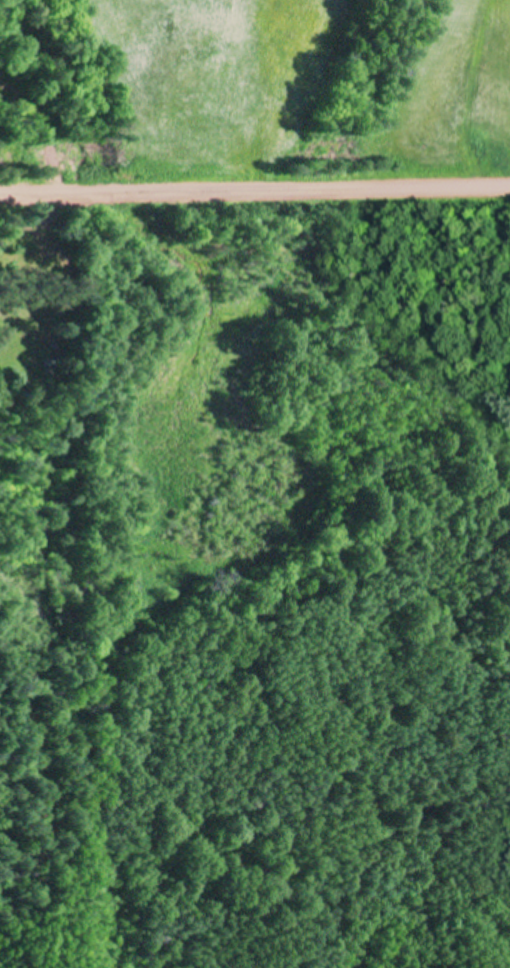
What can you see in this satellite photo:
road: (255, 193)

